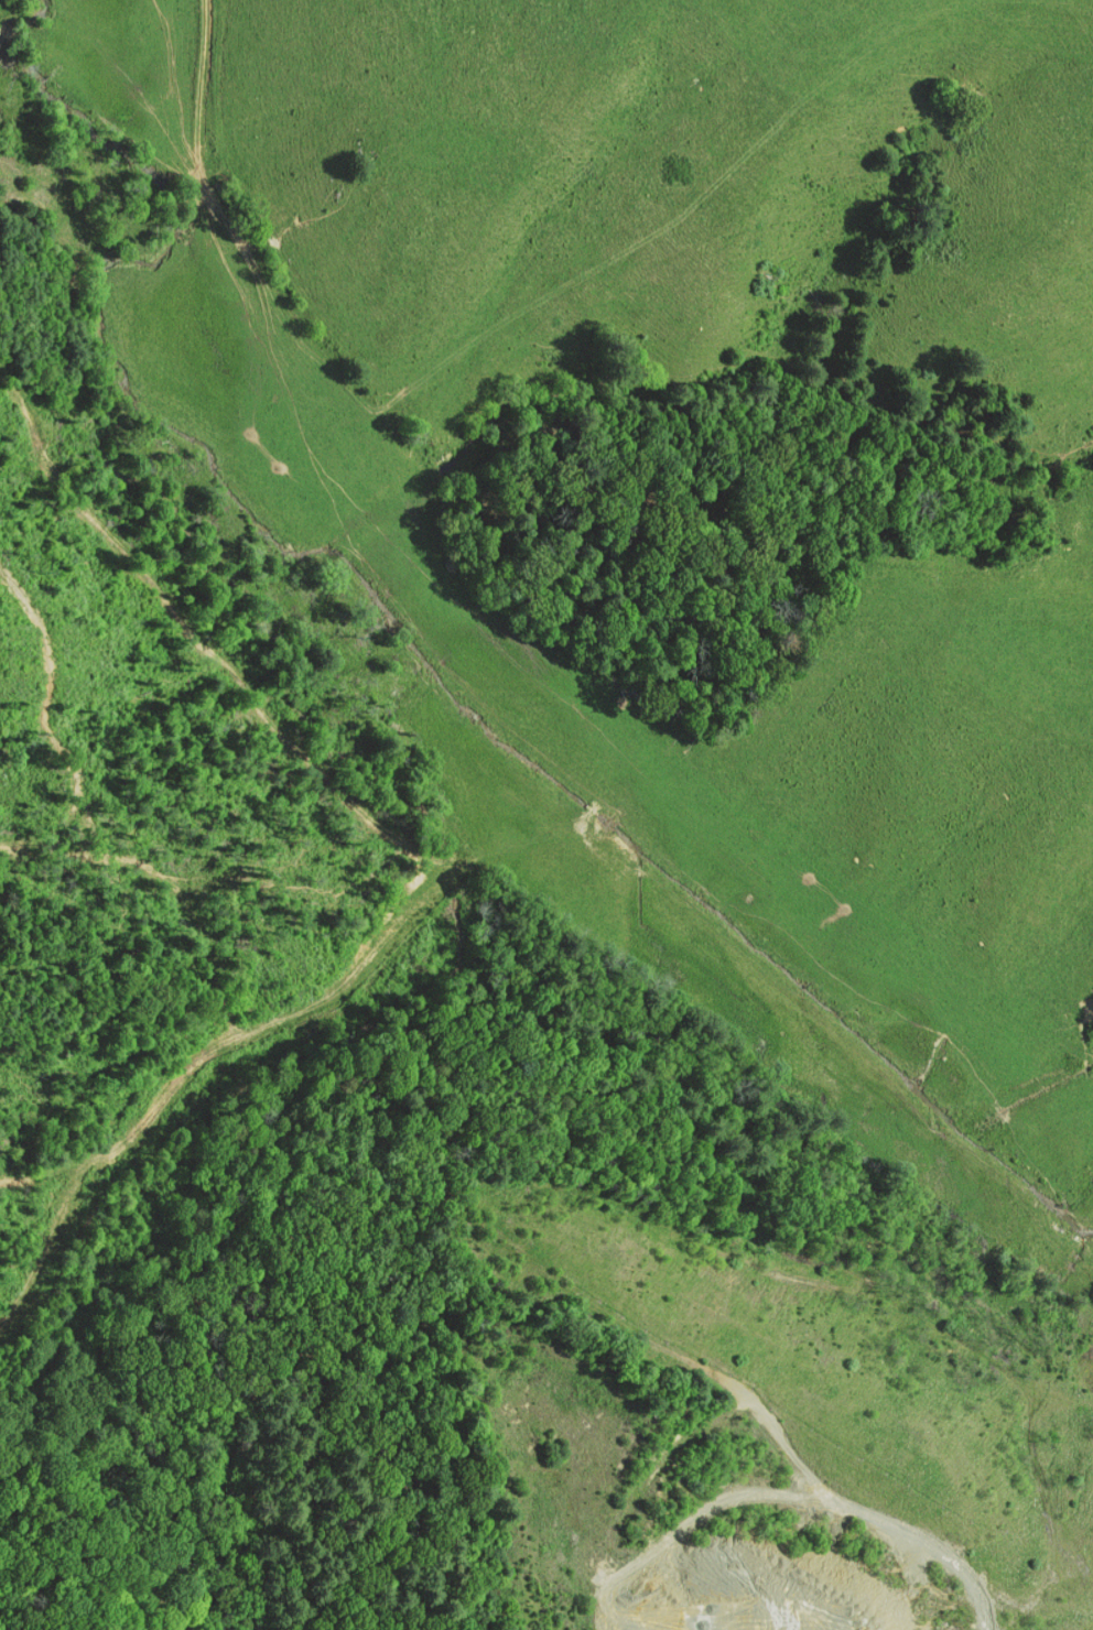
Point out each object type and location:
road: (244, 250)

